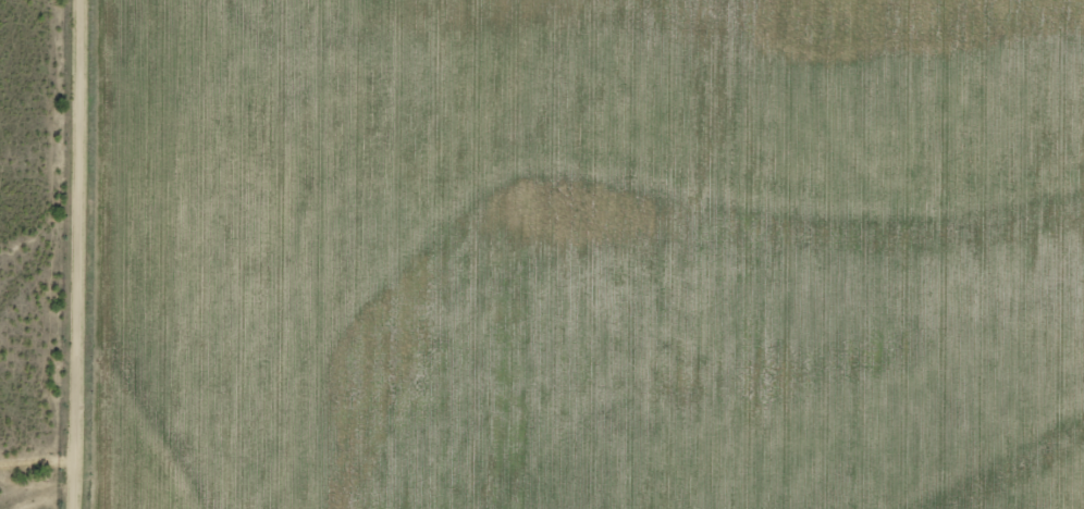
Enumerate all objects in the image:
road: (79, 254)

